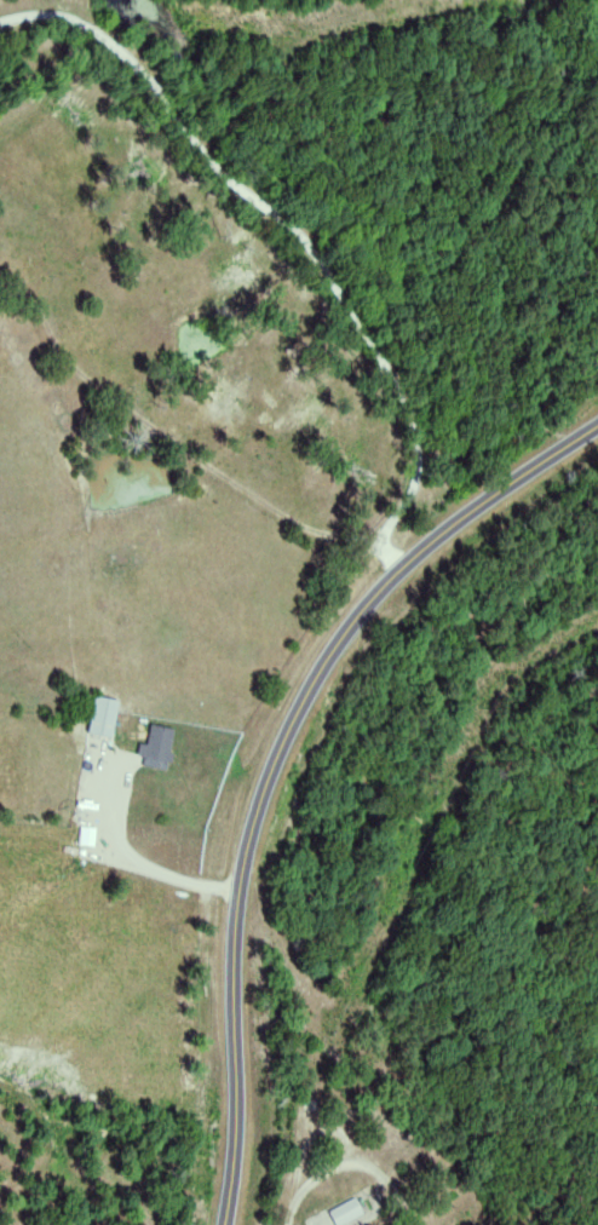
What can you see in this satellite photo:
building: (105, 715)
building: (161, 746)
road: (280, 761)
building: (92, 835)

